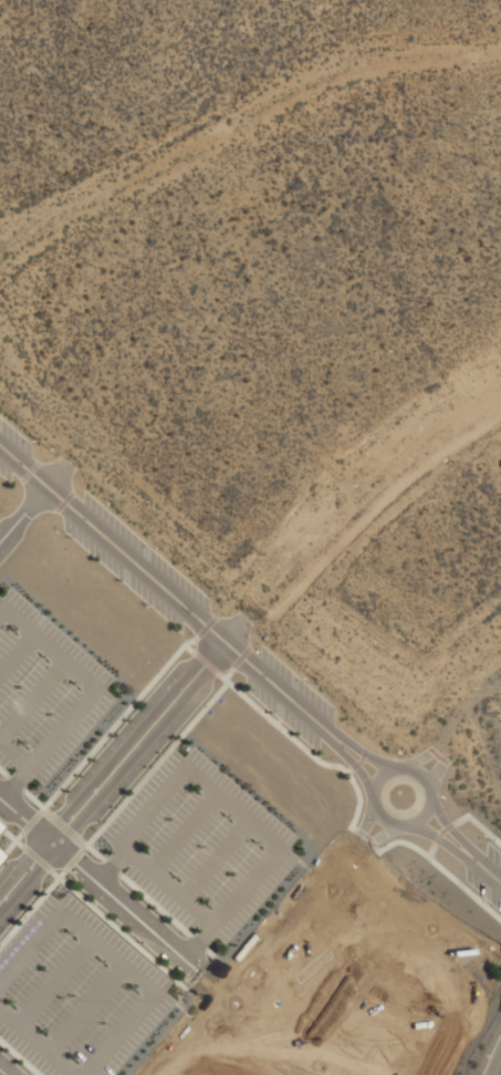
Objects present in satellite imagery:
parking lot: (11, 449)
road: (29, 469)
road: (64, 500)
road: (23, 513)
parking lot: (135, 562)
road: (159, 583)
road: (0, 607)
road: (205, 627)
road: (50, 644)
road: (189, 647)
road: (17, 652)
road: (239, 657)
road: (205, 661)
road: (227, 673)
parking lot: (298, 683)
parking lot: (45, 691)
road: (33, 697)
parking lot: (283, 713)
road: (116, 722)
road: (64, 723)
road: (303, 747)
road: (357, 747)
road: (14, 748)
road: (431, 750)
road: (363, 752)
road: (437, 755)
road: (348, 757)
road: (123, 758)
road: (414, 758)
road: (442, 758)
road: (359, 761)
road: (154, 764)
road: (355, 765)
road: (348, 768)
road: (3, 772)
road: (432, 774)
road: (15, 779)
road: (14, 782)
road: (34, 799)
road: (375, 804)
road: (152, 805)
road: (231, 805)
road: (459, 819)
road: (31, 820)
road: (448, 826)
road: (353, 827)
road: (448, 827)
road: (63, 828)
road: (483, 829)
road: (181, 830)
road: (441, 830)
road: (359, 831)
road: (359, 834)
road: (11, 836)
road: (366, 836)
road: (437, 837)
road: (440, 838)
road: (370, 840)
road: (372, 840)
road: (11, 843)
parking lot: (199, 845)
road: (376, 848)
road: (430, 849)
road: (92, 850)
road: (35, 857)
road: (213, 857)
road: (74, 858)
street lamp: (93, 859)
road: (111, 865)
road: (111, 866)
road: (442, 869)
road: (488, 870)
road: (164, 882)
road: (244, 883)
road: (113, 897)
road: (154, 905)
road: (32, 906)
road: (117, 927)
parking lot: (304, 931)
road: (196, 939)
road: (197, 941)
road: (30, 950)
road: (107, 952)
road: (209, 952)
road: (251, 968)
road: (53, 980)
parking lot: (79, 991)
road: (84, 1006)
road: (117, 1034)
road: (39, 1042)
parking lot: (208, 1044)
road: (19, 1057)
road: (497, 1065)
road: (3, 1072)

